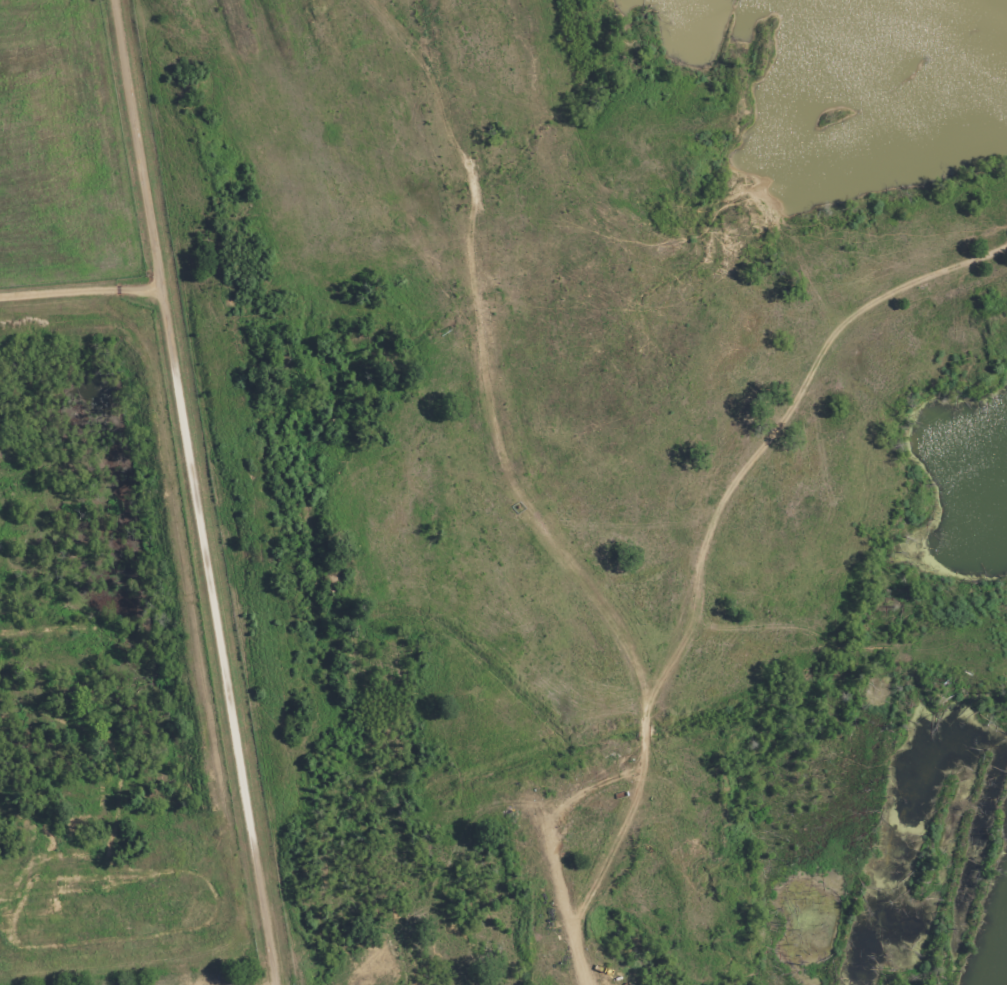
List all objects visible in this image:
road: (80, 284)
road: (197, 492)
road: (821, 601)
road: (180, 981)

